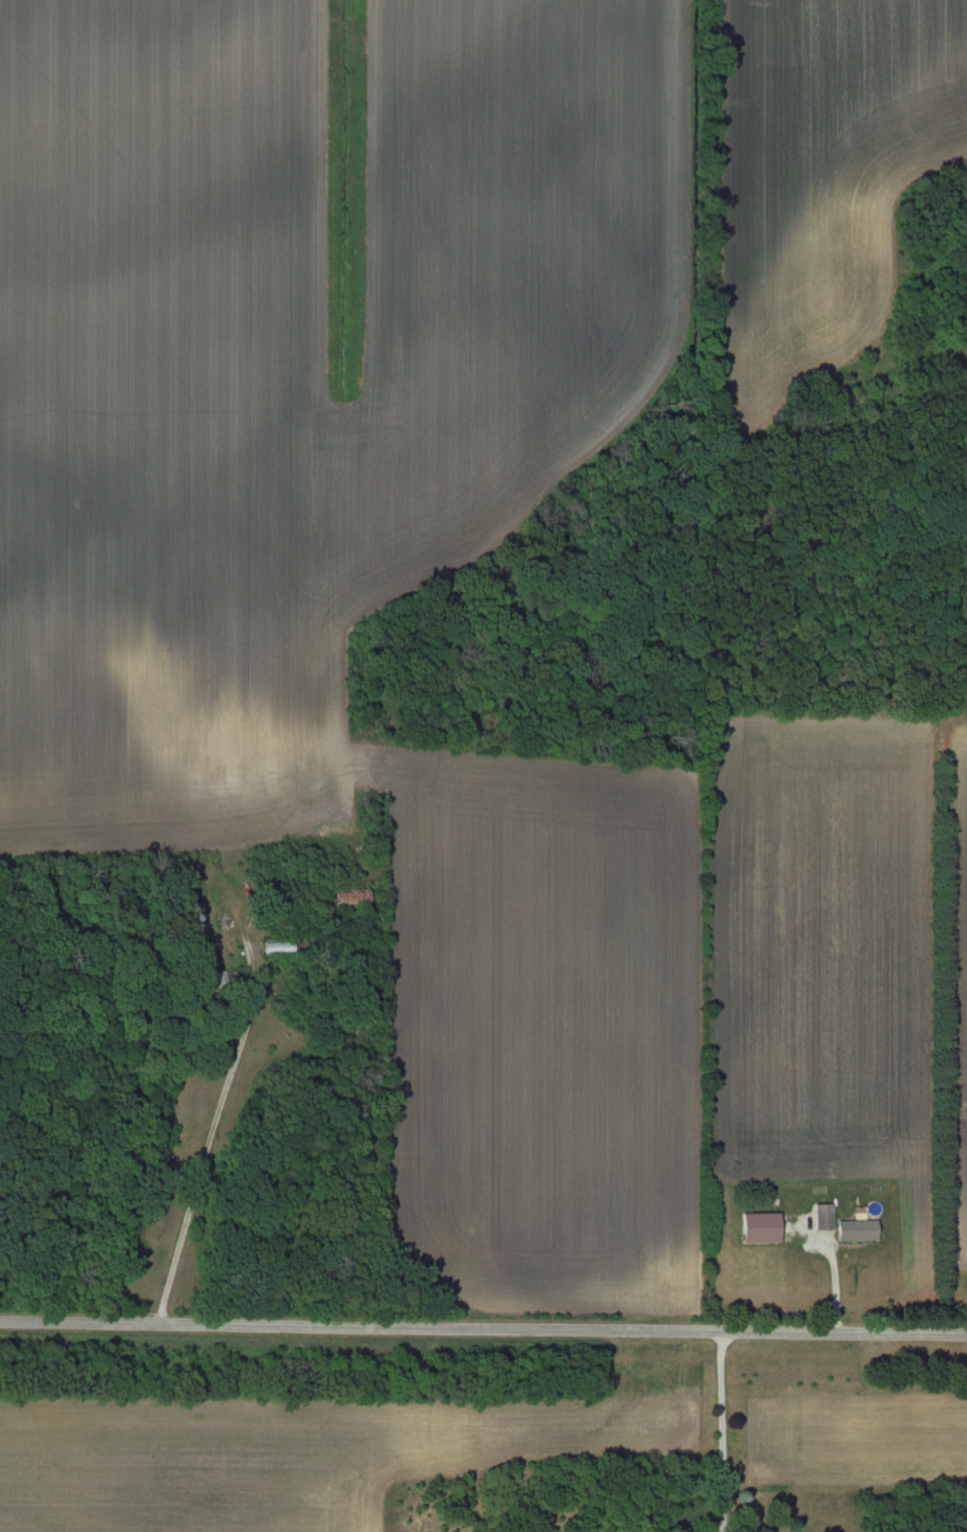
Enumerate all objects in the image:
building: (350, 897)
building: (279, 946)
building: (213, 981)
road: (209, 1146)
building: (824, 1216)
building: (761, 1227)
building: (857, 1229)
road: (483, 1322)

